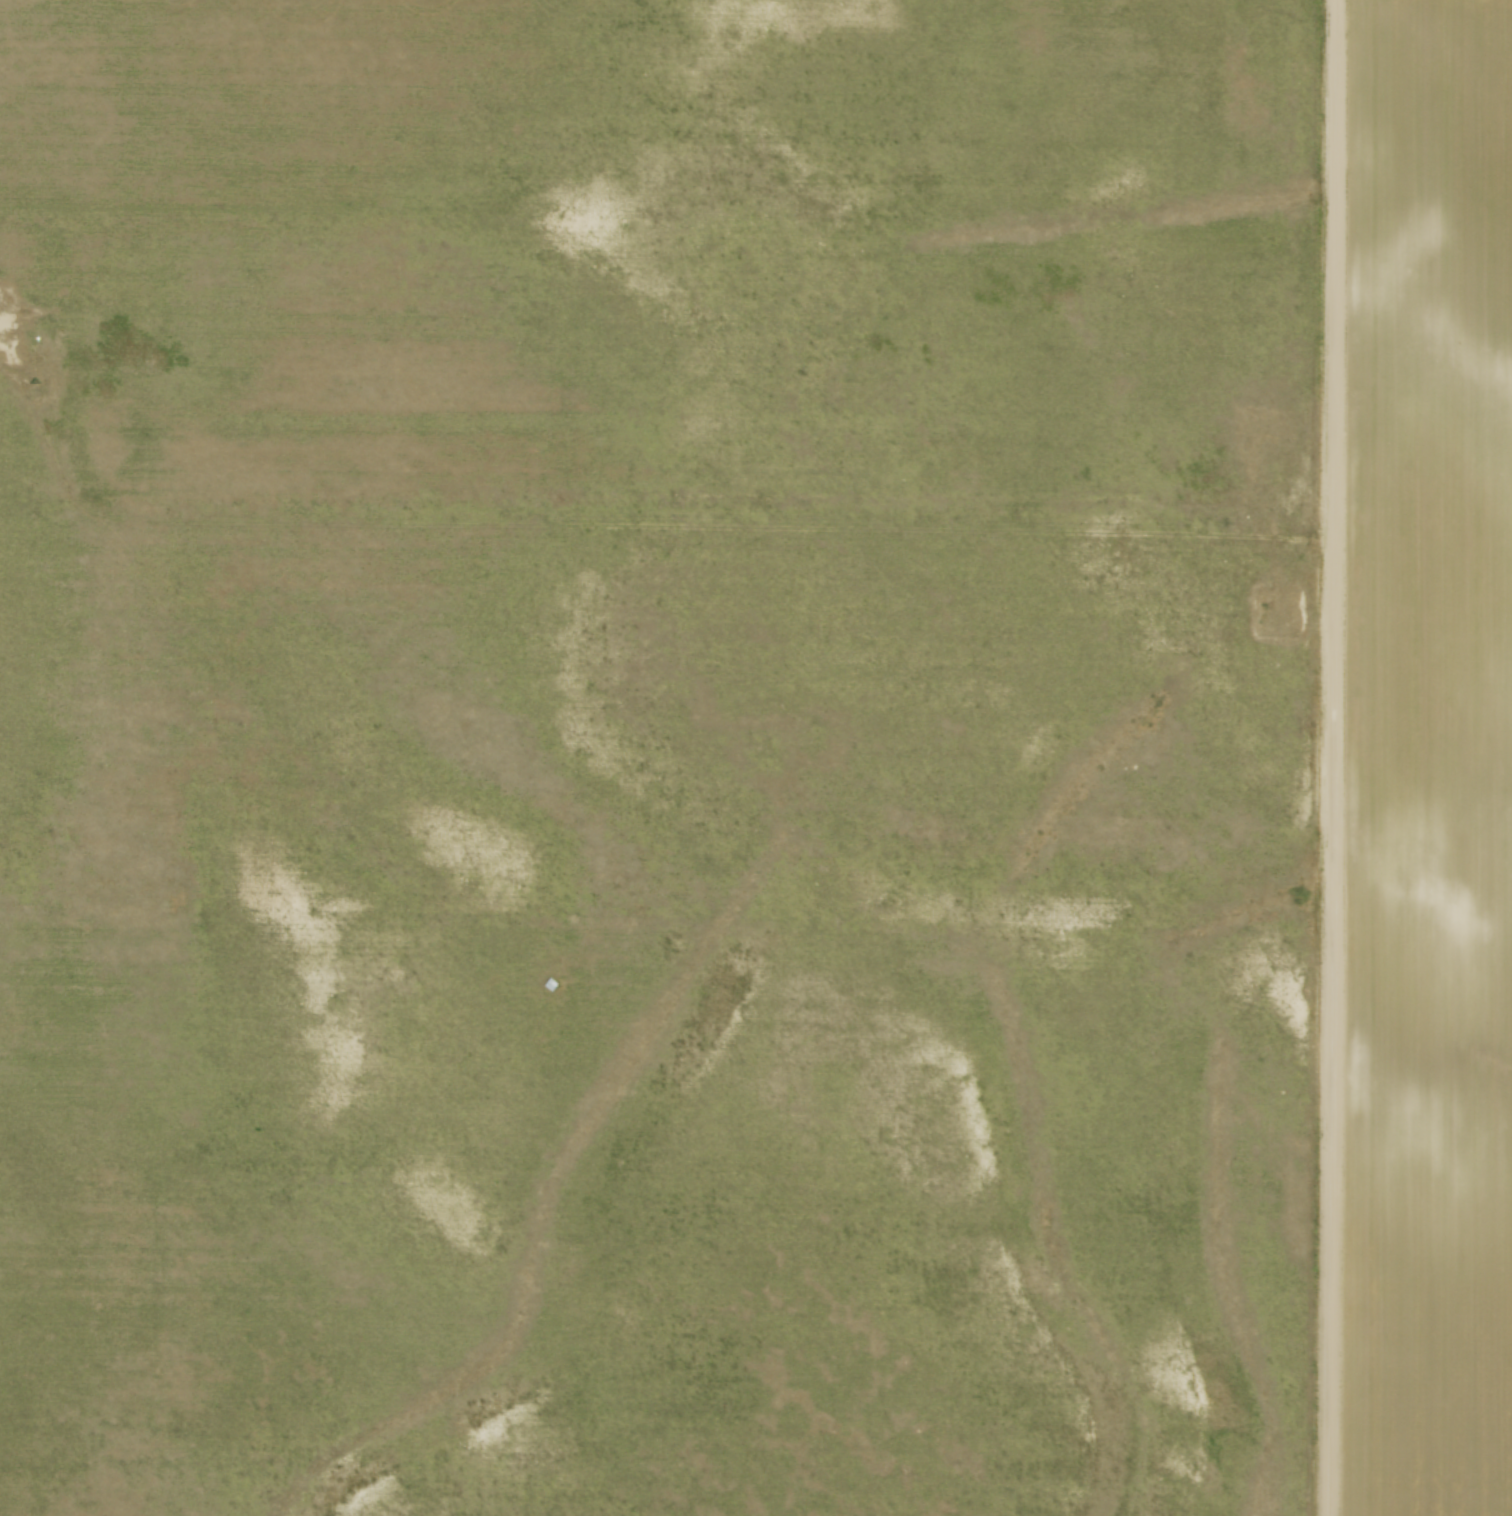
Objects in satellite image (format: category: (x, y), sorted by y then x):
road: (1332, 758)
crop: (1431, 763)

